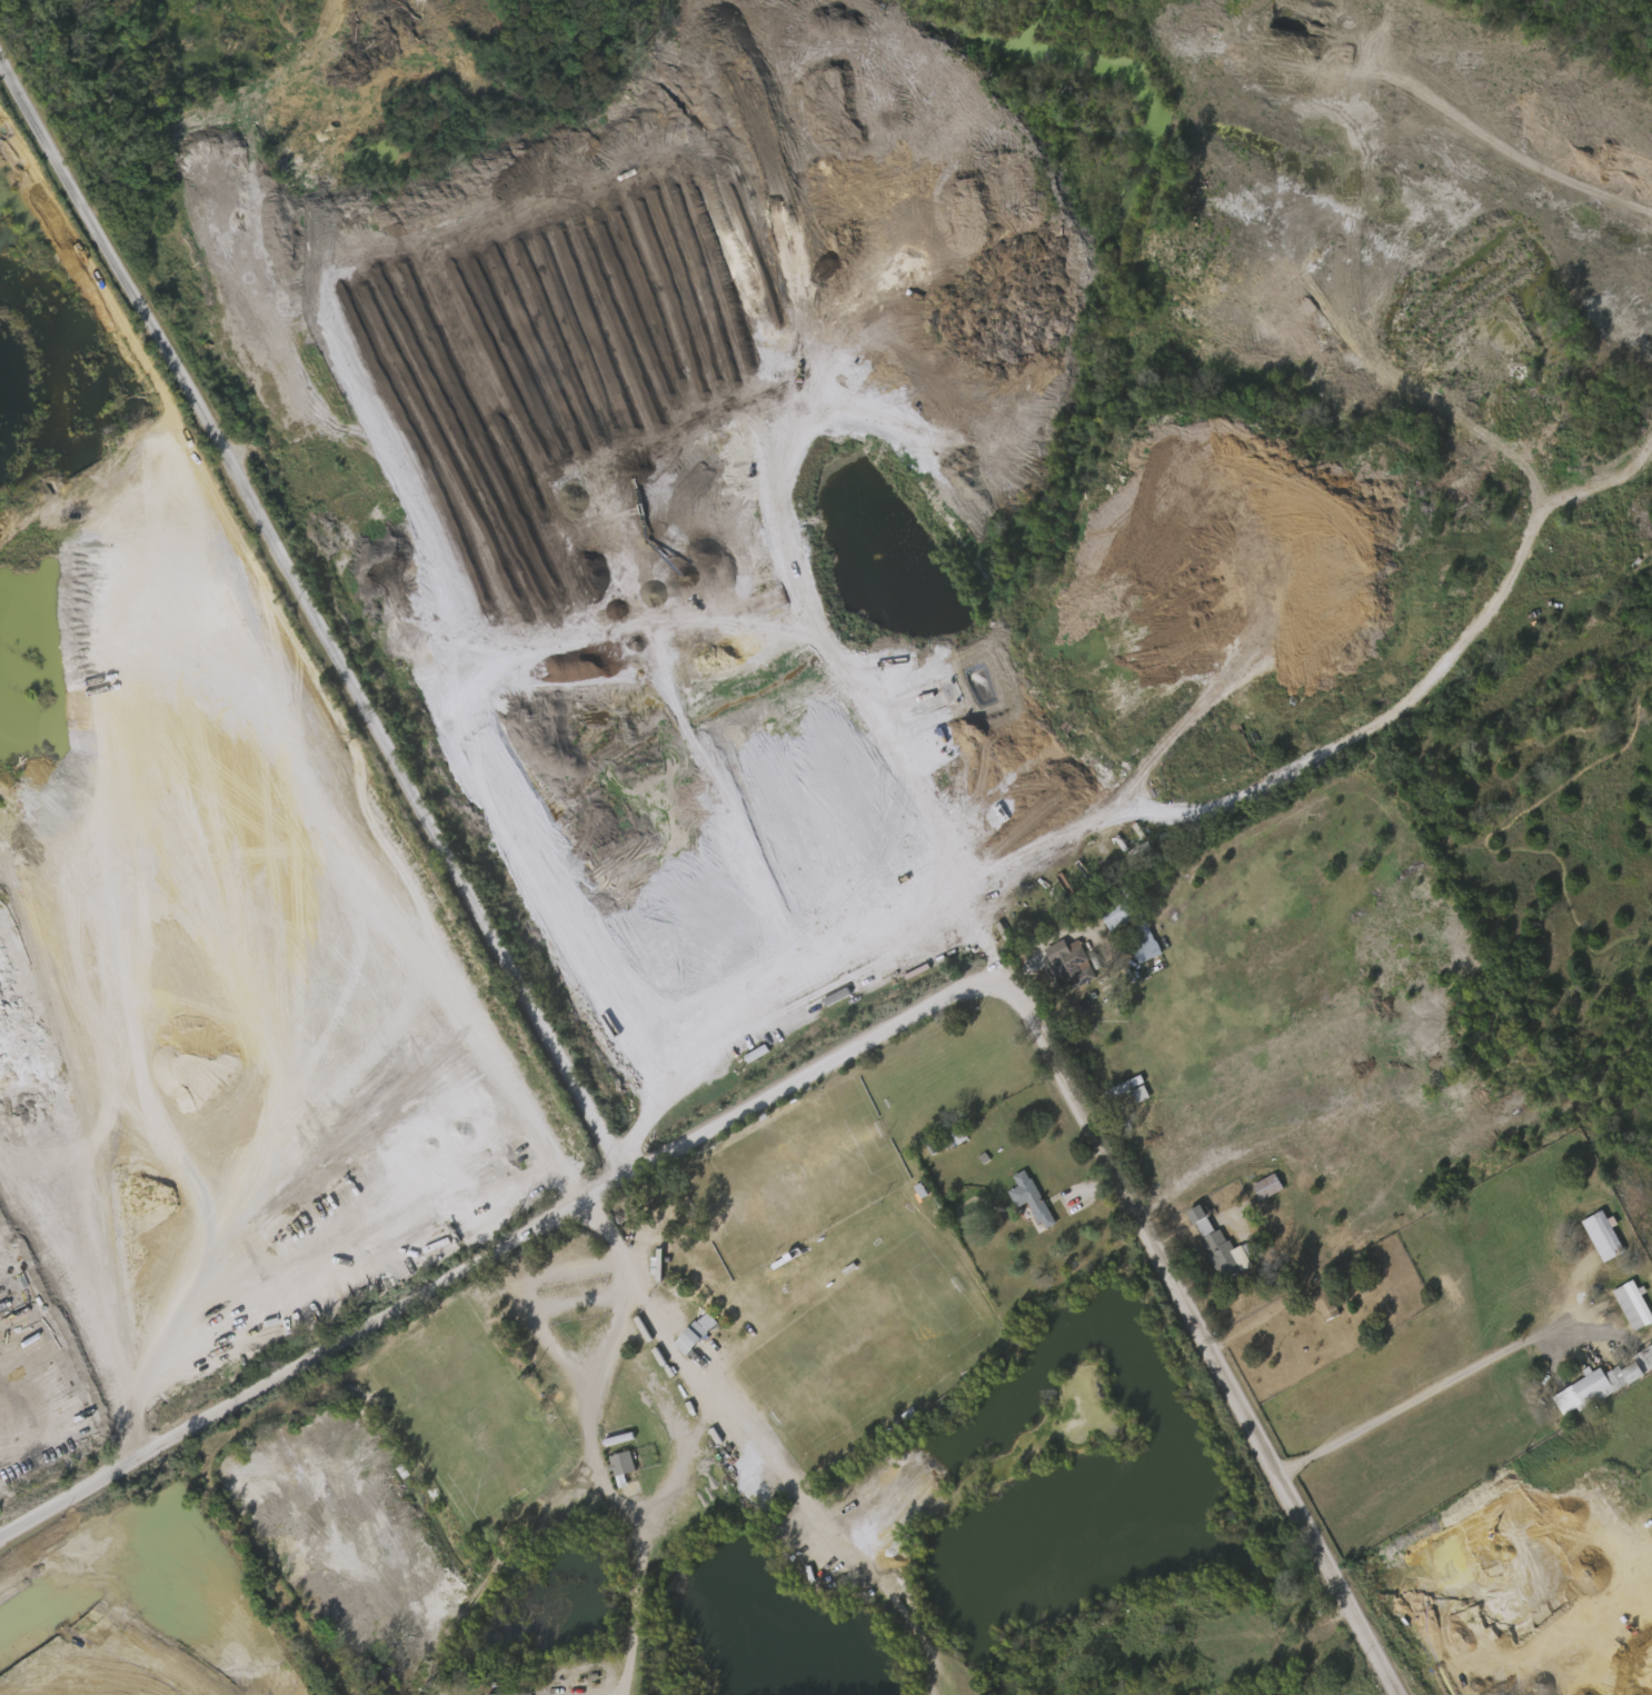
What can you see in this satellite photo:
road: (238, 152)
road: (546, 285)
road: (318, 621)
building: (1106, 915)
building: (1134, 940)
building: (1069, 964)
road: (777, 1009)
building: (756, 1054)
building: (1121, 1089)
road: (1104, 1156)
road: (1207, 1177)
building: (1257, 1185)
building: (1266, 1187)
building: (1029, 1197)
building: (1195, 1215)
road: (1178, 1235)
building: (1602, 1236)
building: (1224, 1255)
building: (1323, 1304)
building: (1632, 1306)
road: (1255, 1325)
building: (686, 1330)
building: (698, 1333)
road: (1599, 1343)
road: (617, 1353)
road: (316, 1368)
building: (1595, 1387)
road: (1453, 1390)
building: (613, 1462)
building: (623, 1469)
road: (678, 1470)
building: (1649, 1476)
road: (1618, 1628)
building: (509, 1694)

